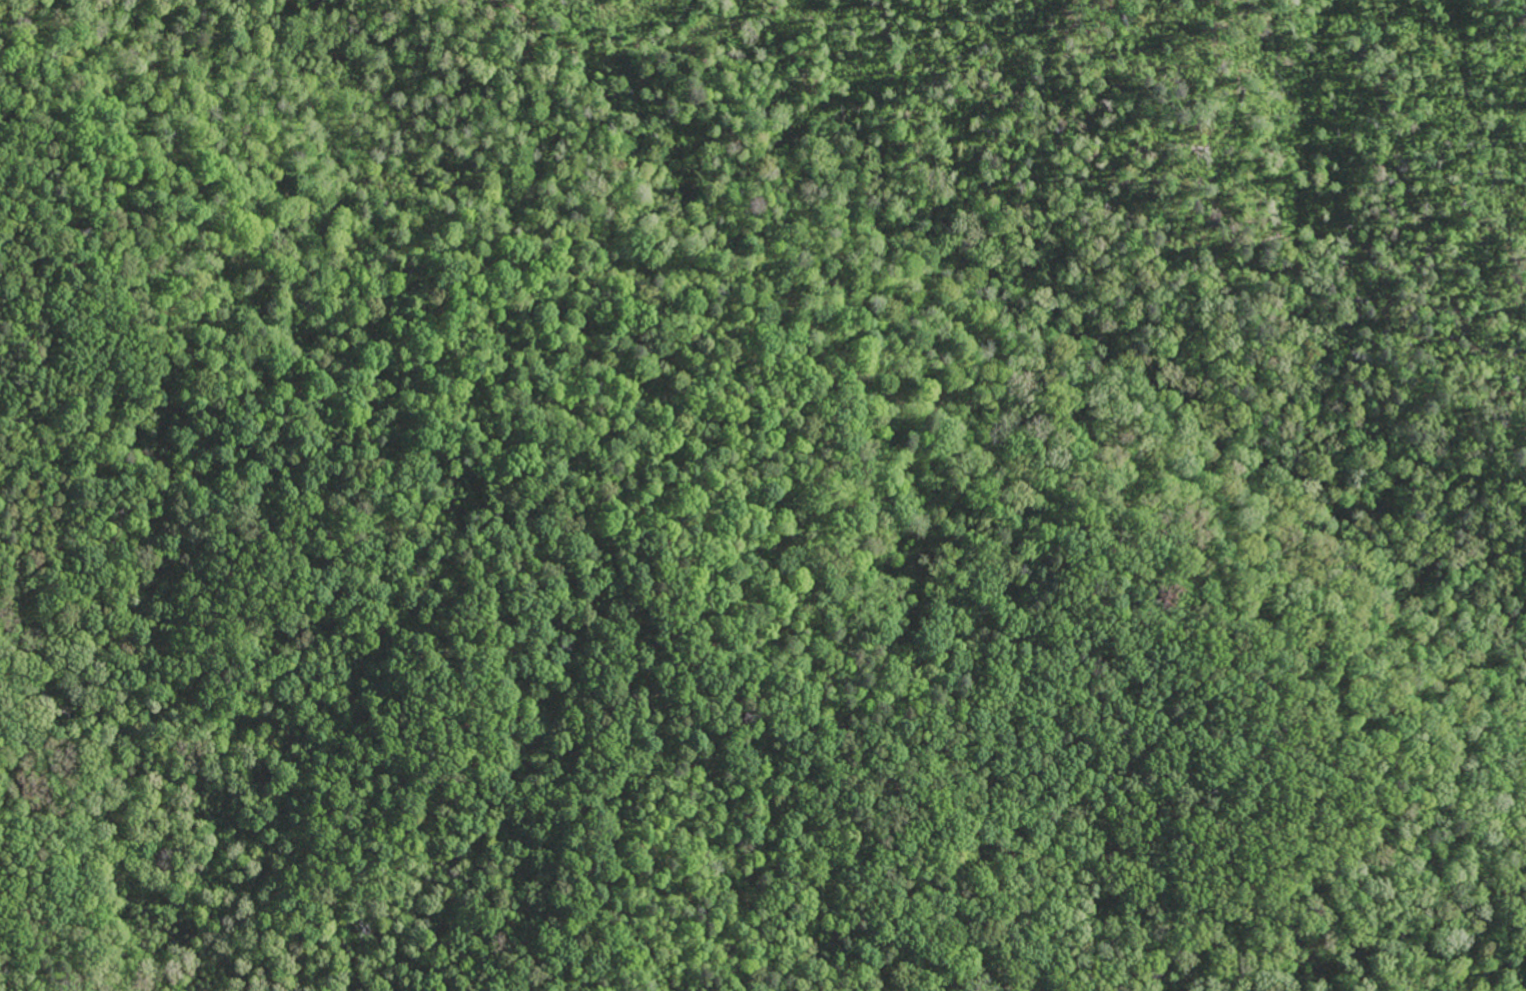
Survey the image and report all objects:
road: (530, 528)

